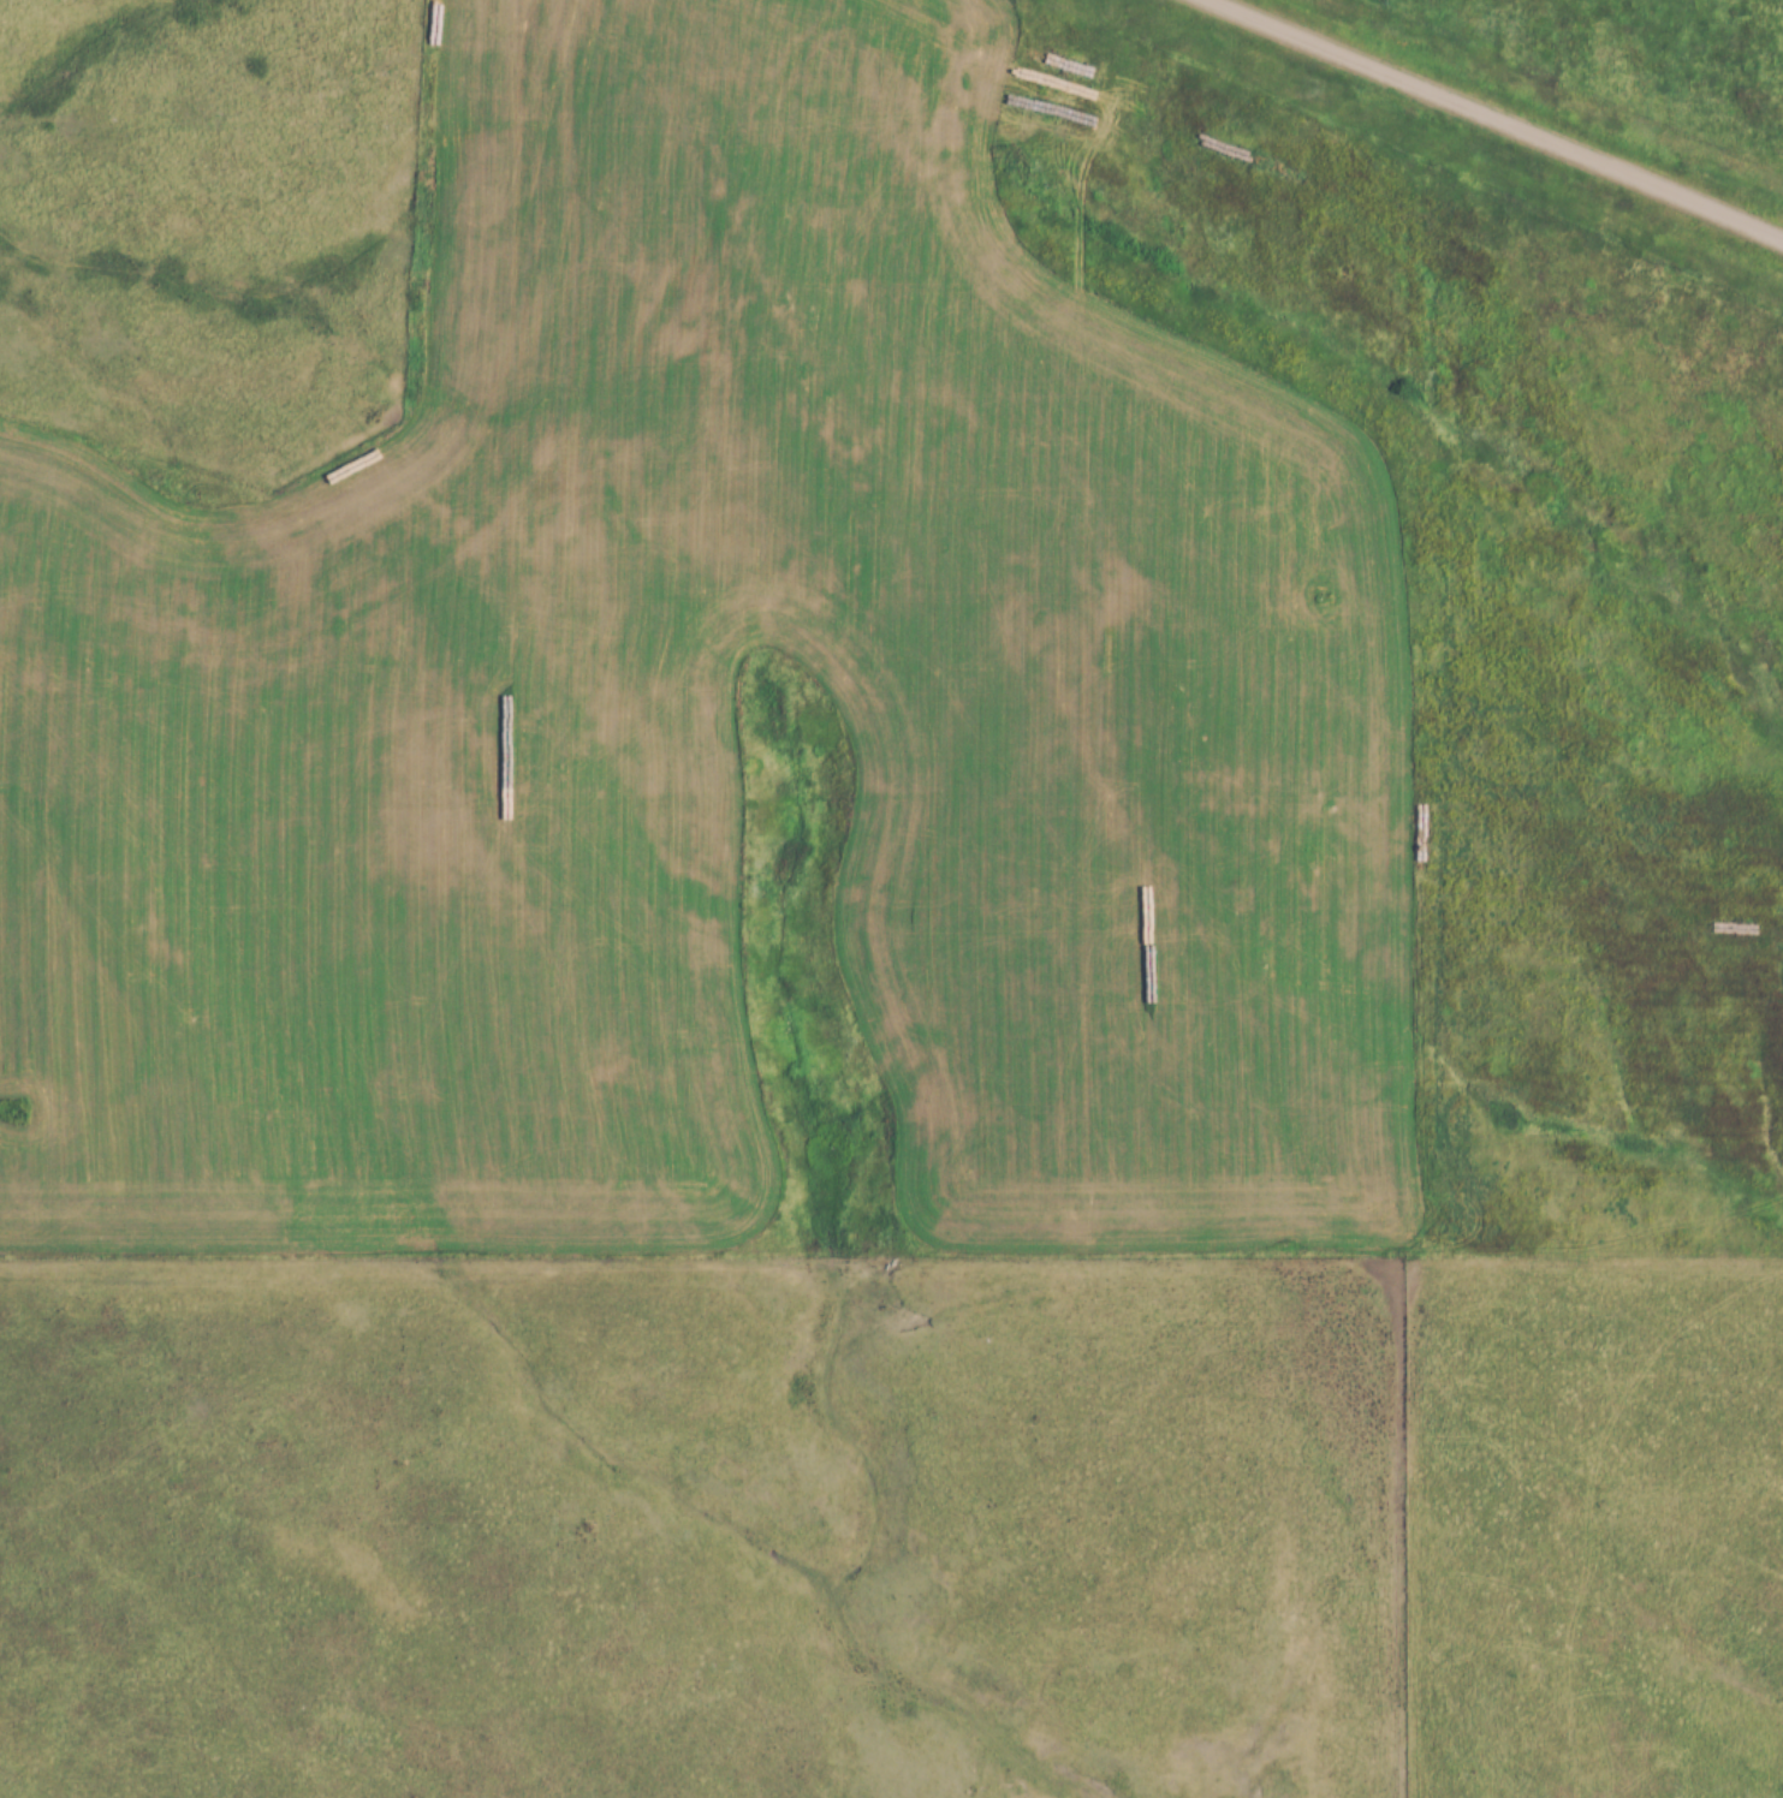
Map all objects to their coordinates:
road: (1493, 123)

